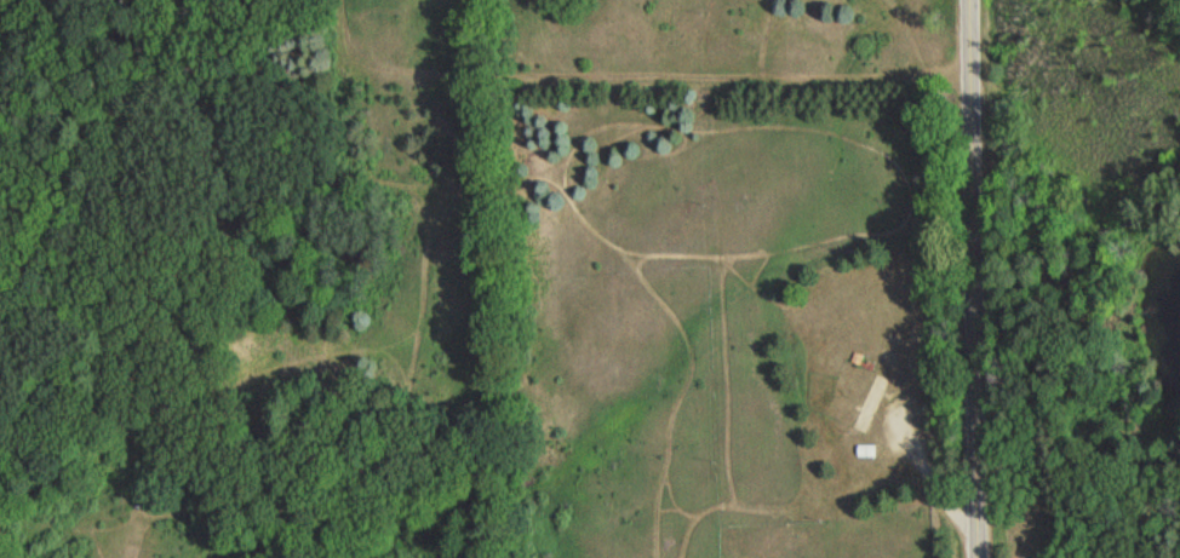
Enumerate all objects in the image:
road: (980, 278)
building: (870, 404)

